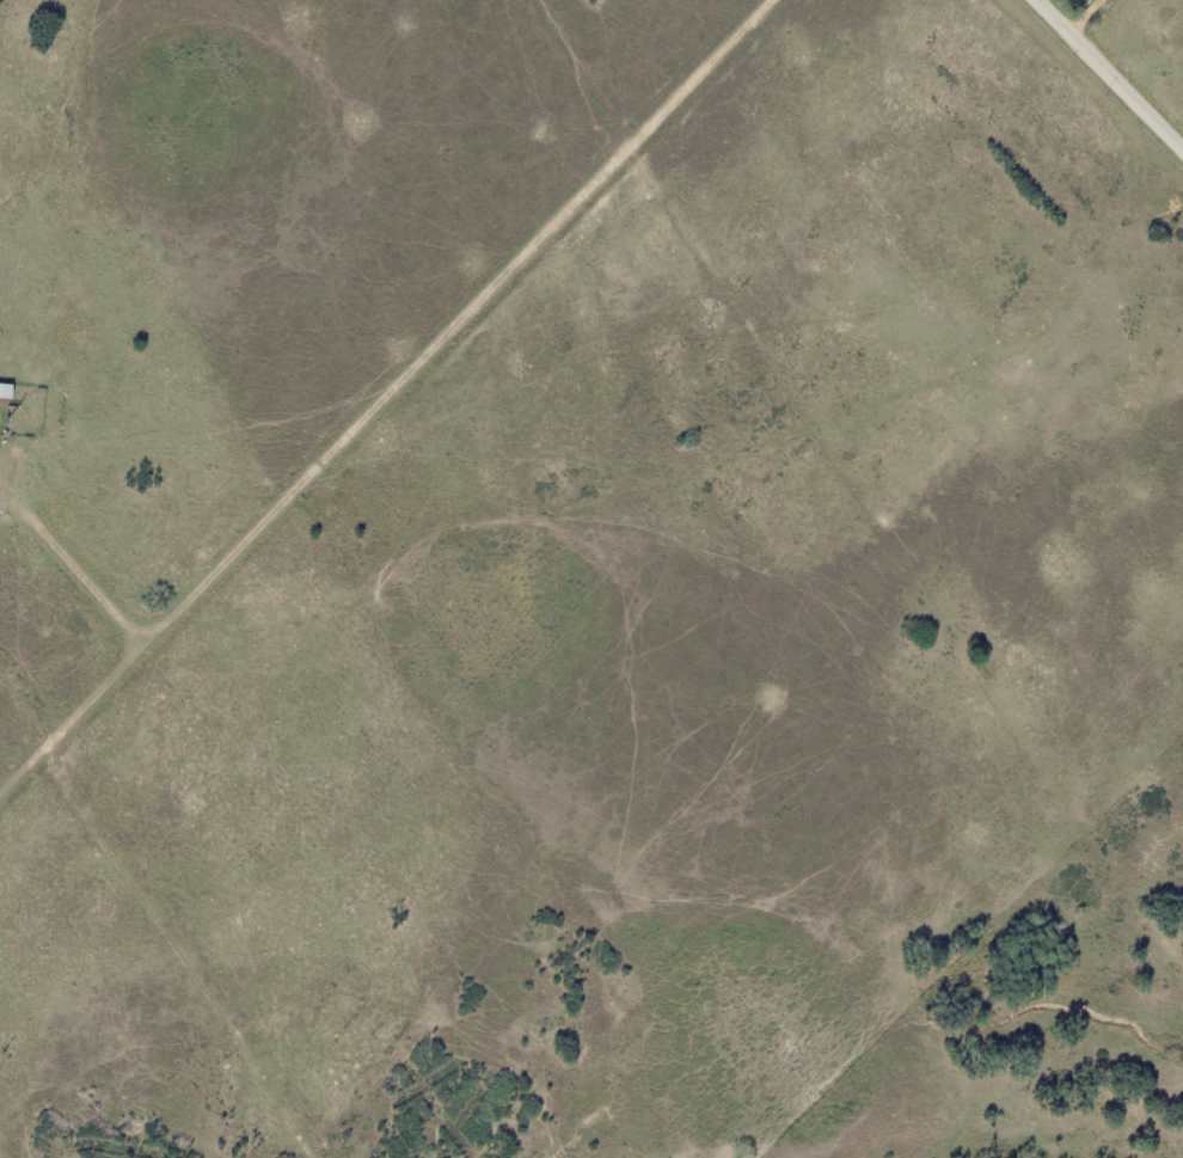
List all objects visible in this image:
road: (1115, 69)
building: (7, 390)

